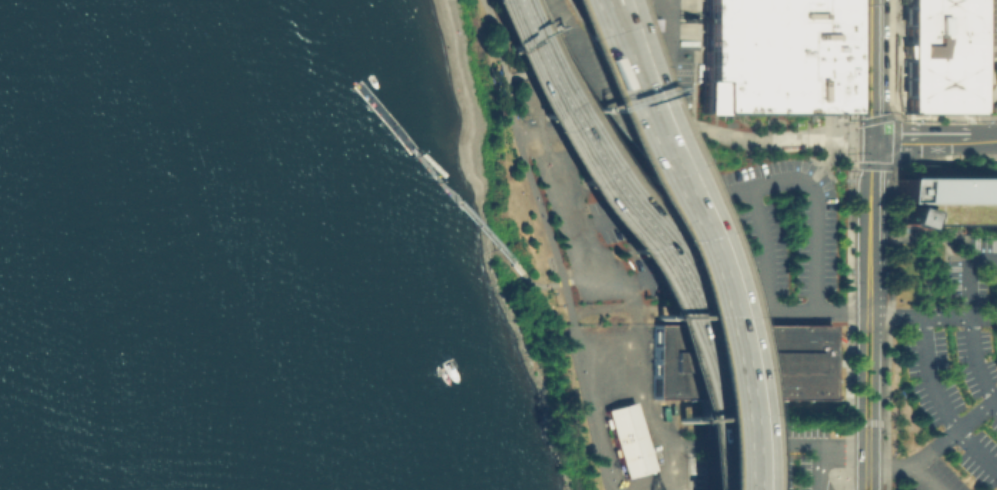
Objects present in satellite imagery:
road: (516, 1)
building: (900, 1)
road: (503, 37)
road: (604, 37)
road: (616, 37)
building: (986, 39)
road: (537, 45)
building: (777, 55)
road: (570, 57)
building: (939, 57)
road: (870, 69)
road: (603, 85)
pier: (389, 115)
road: (695, 126)
road: (918, 137)
road: (982, 137)
traffic signals: (870, 139)
pier: (420, 157)
road: (825, 162)
park: (512, 168)
road: (444, 183)
road: (869, 191)
road: (721, 194)
road: (544, 198)
building: (946, 204)
parking lot: (772, 241)
road: (496, 245)
road: (765, 249)
road: (551, 254)
road: (696, 276)
road: (670, 277)
road: (869, 277)
road: (617, 281)
road: (563, 282)
road: (841, 311)
road: (896, 314)
road: (932, 316)
road: (983, 318)
building: (743, 360)
parking lot: (956, 360)
park: (564, 390)
road: (860, 400)
road: (874, 400)
road: (650, 409)
river: (21, 412)
road: (954, 432)
building: (630, 439)
road: (689, 442)
road: (797, 442)
road: (977, 449)
parking lot: (767, 455)
road: (719, 466)
road: (771, 466)
road: (883, 467)
road: (817, 470)
road: (920, 476)
parking lot: (846, 485)

